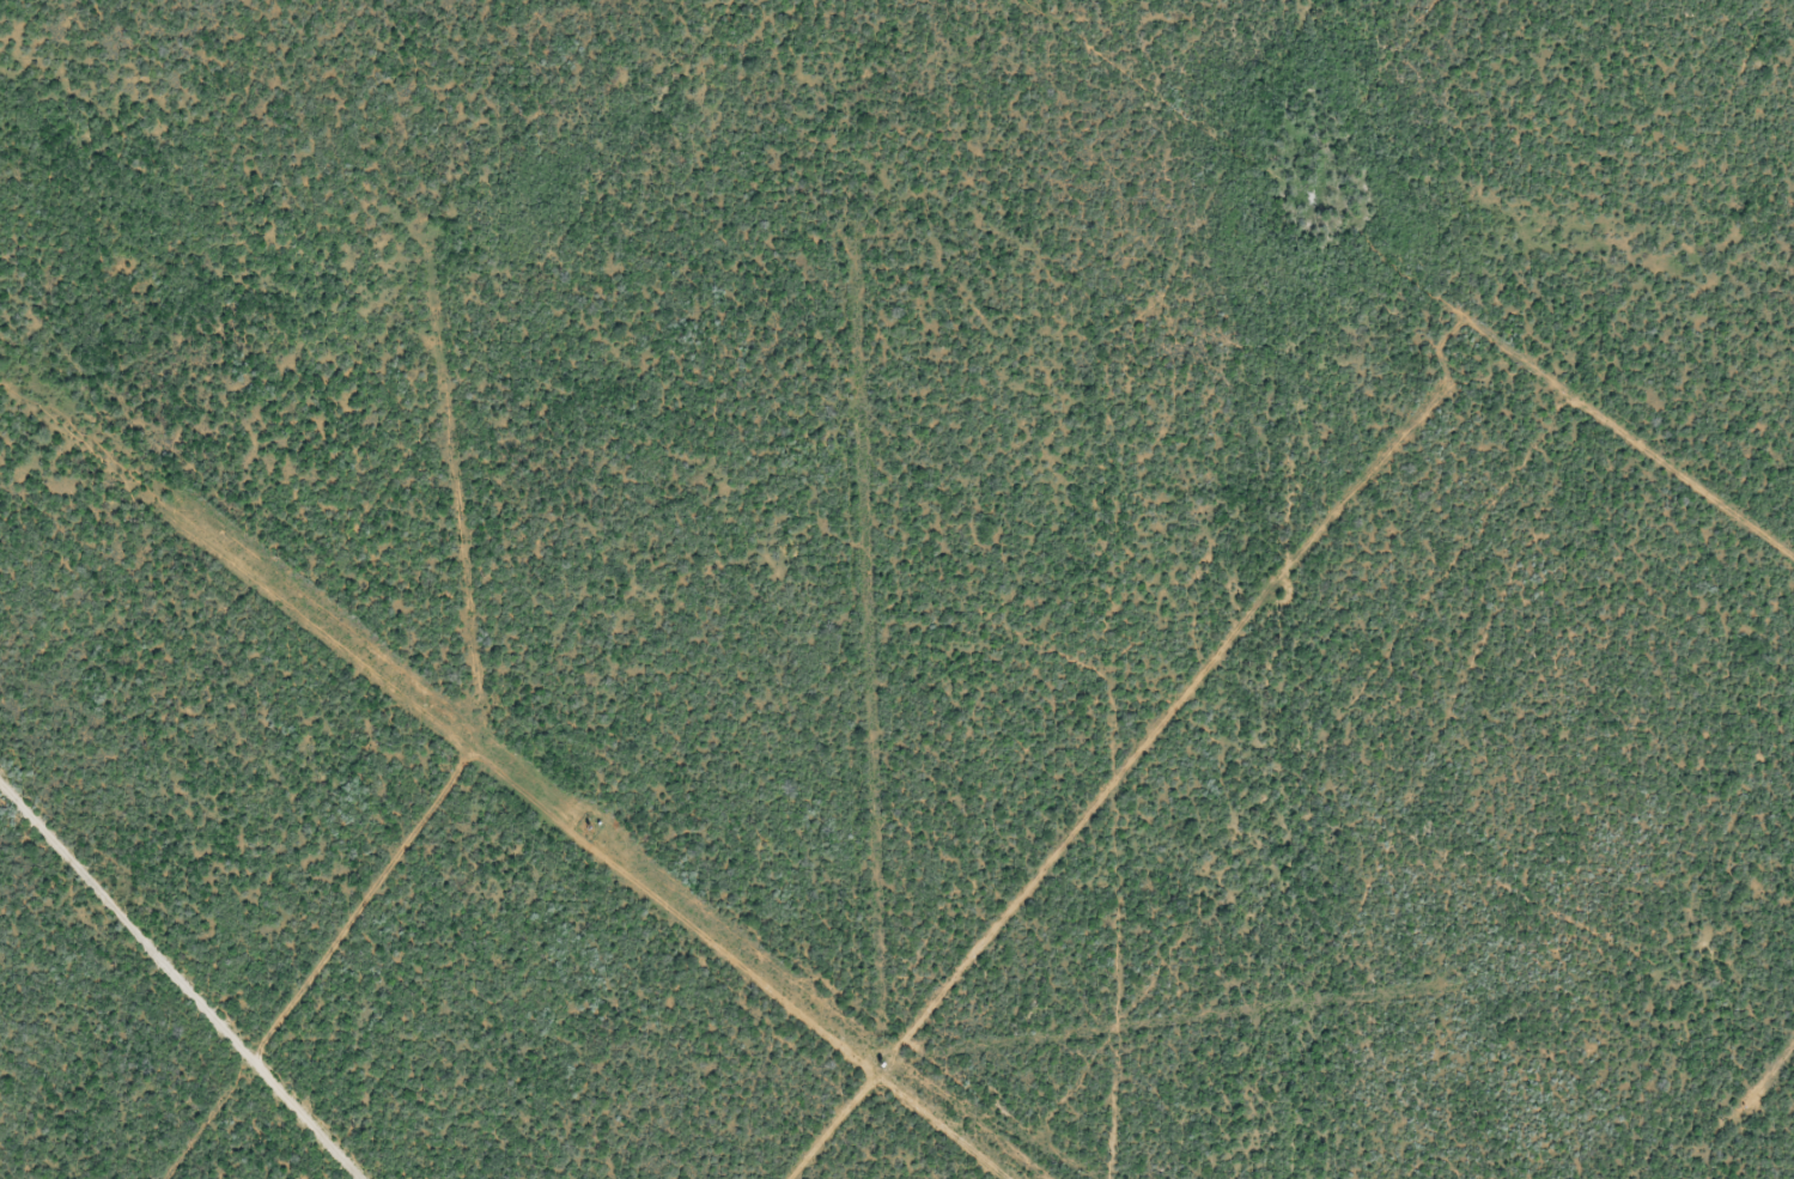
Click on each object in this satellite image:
road: (1145, 968)

